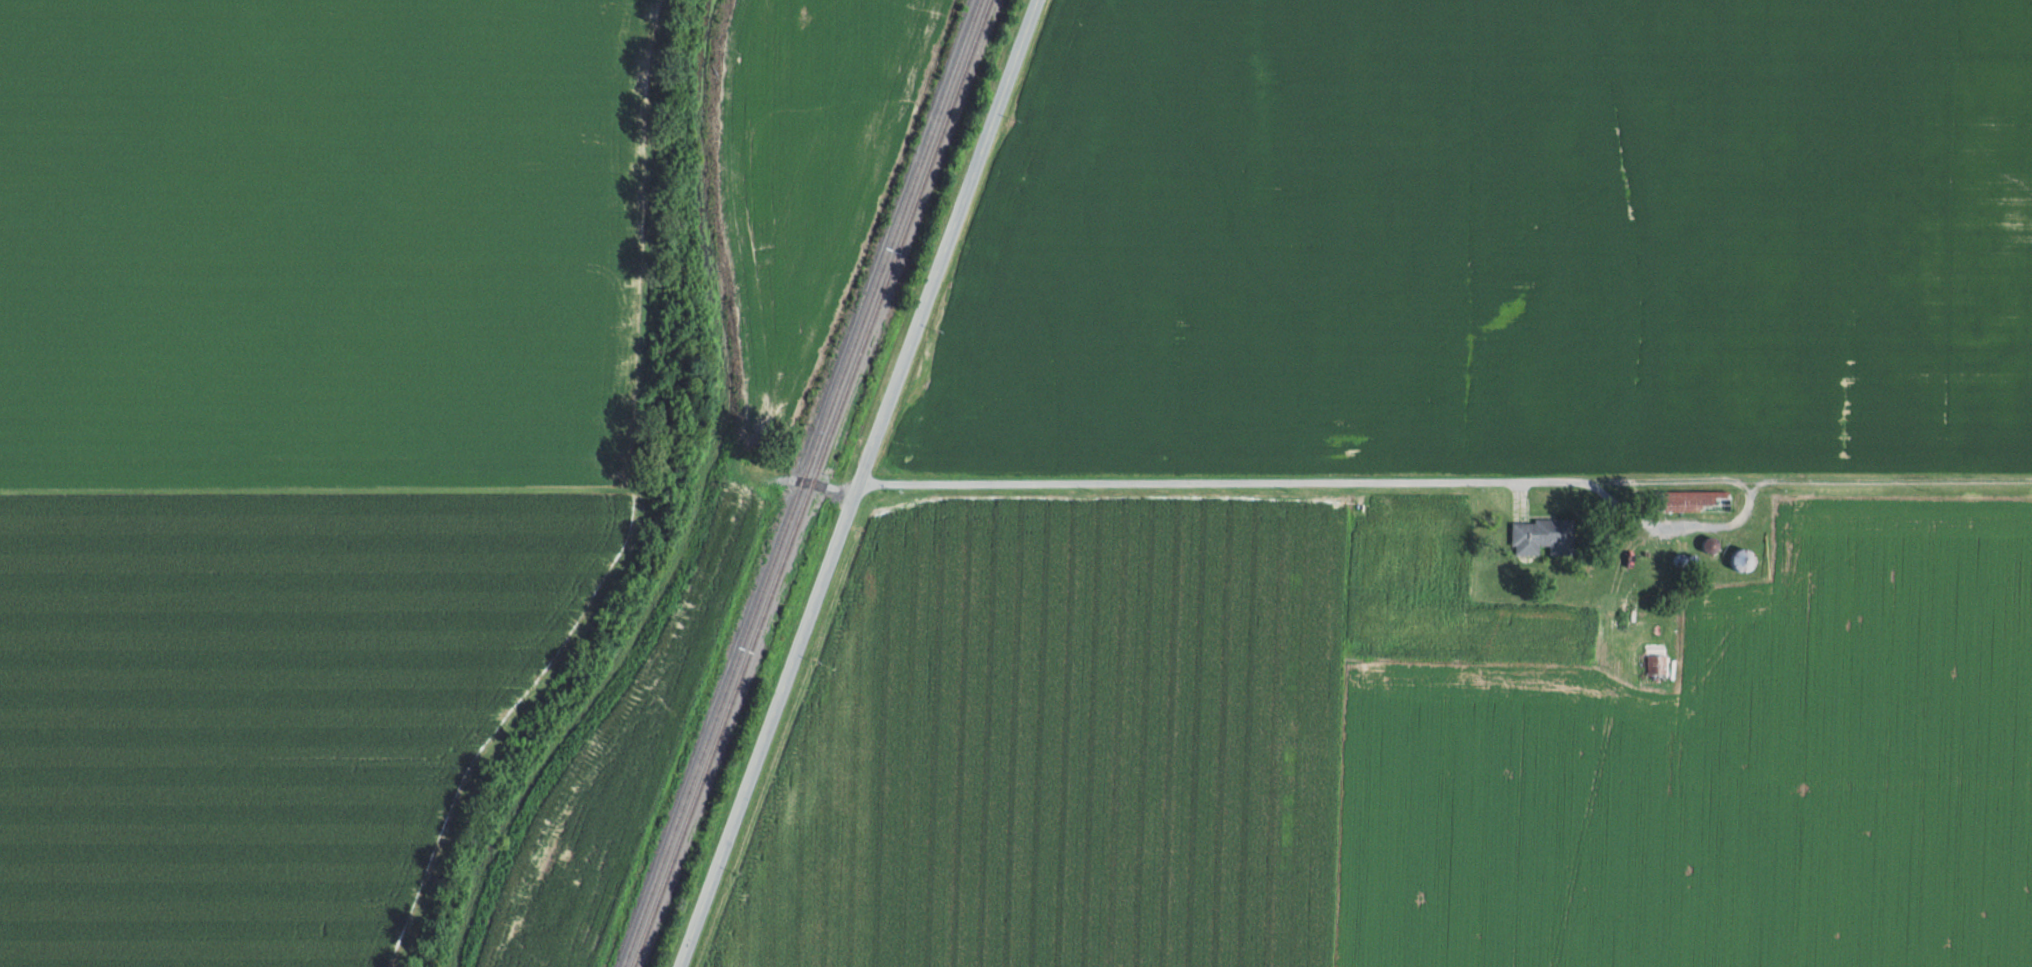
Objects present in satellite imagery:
road: (947, 241)
road: (797, 479)
railway: (801, 483)
railway: (812, 483)
road: (1207, 483)
building: (1695, 501)
building: (1543, 536)
building: (1745, 559)
building: (1657, 663)
road: (768, 724)

